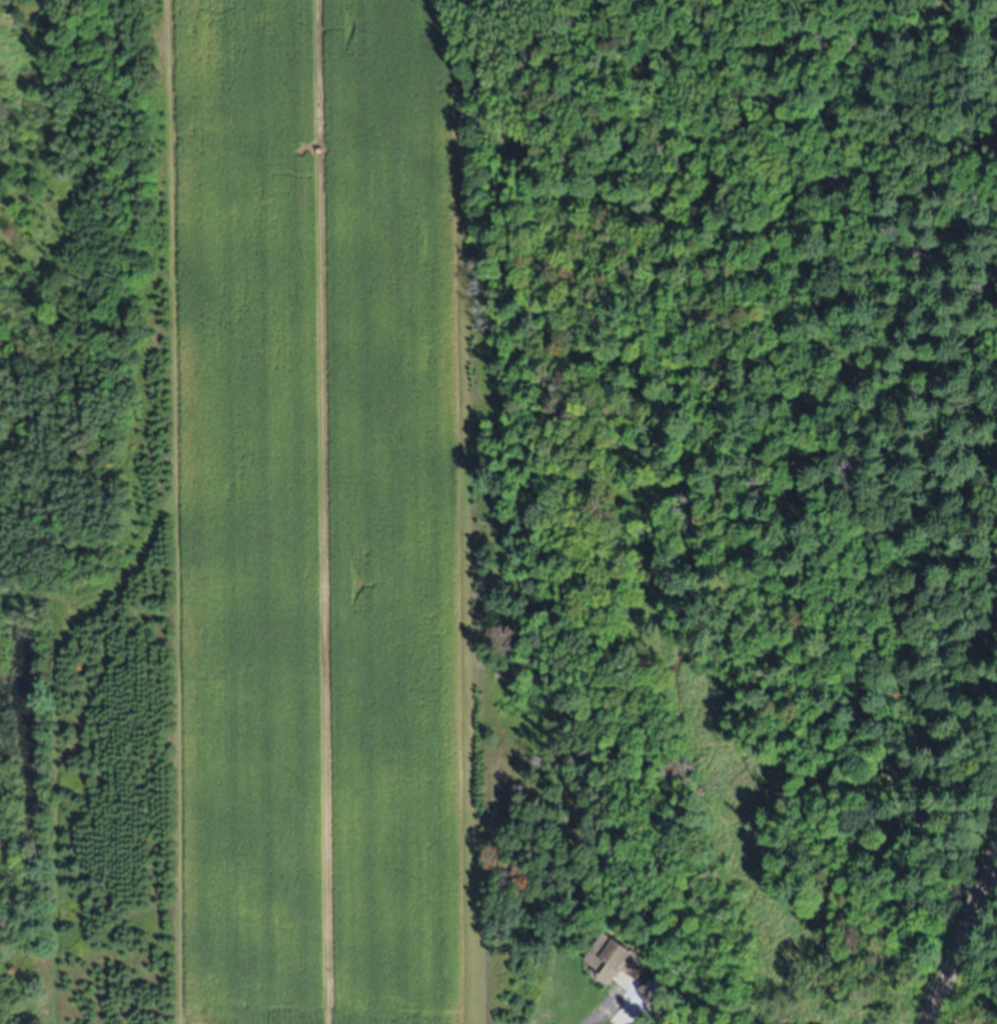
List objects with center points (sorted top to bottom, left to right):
road: (959, 938)
building: (620, 965)
building: (622, 1016)

